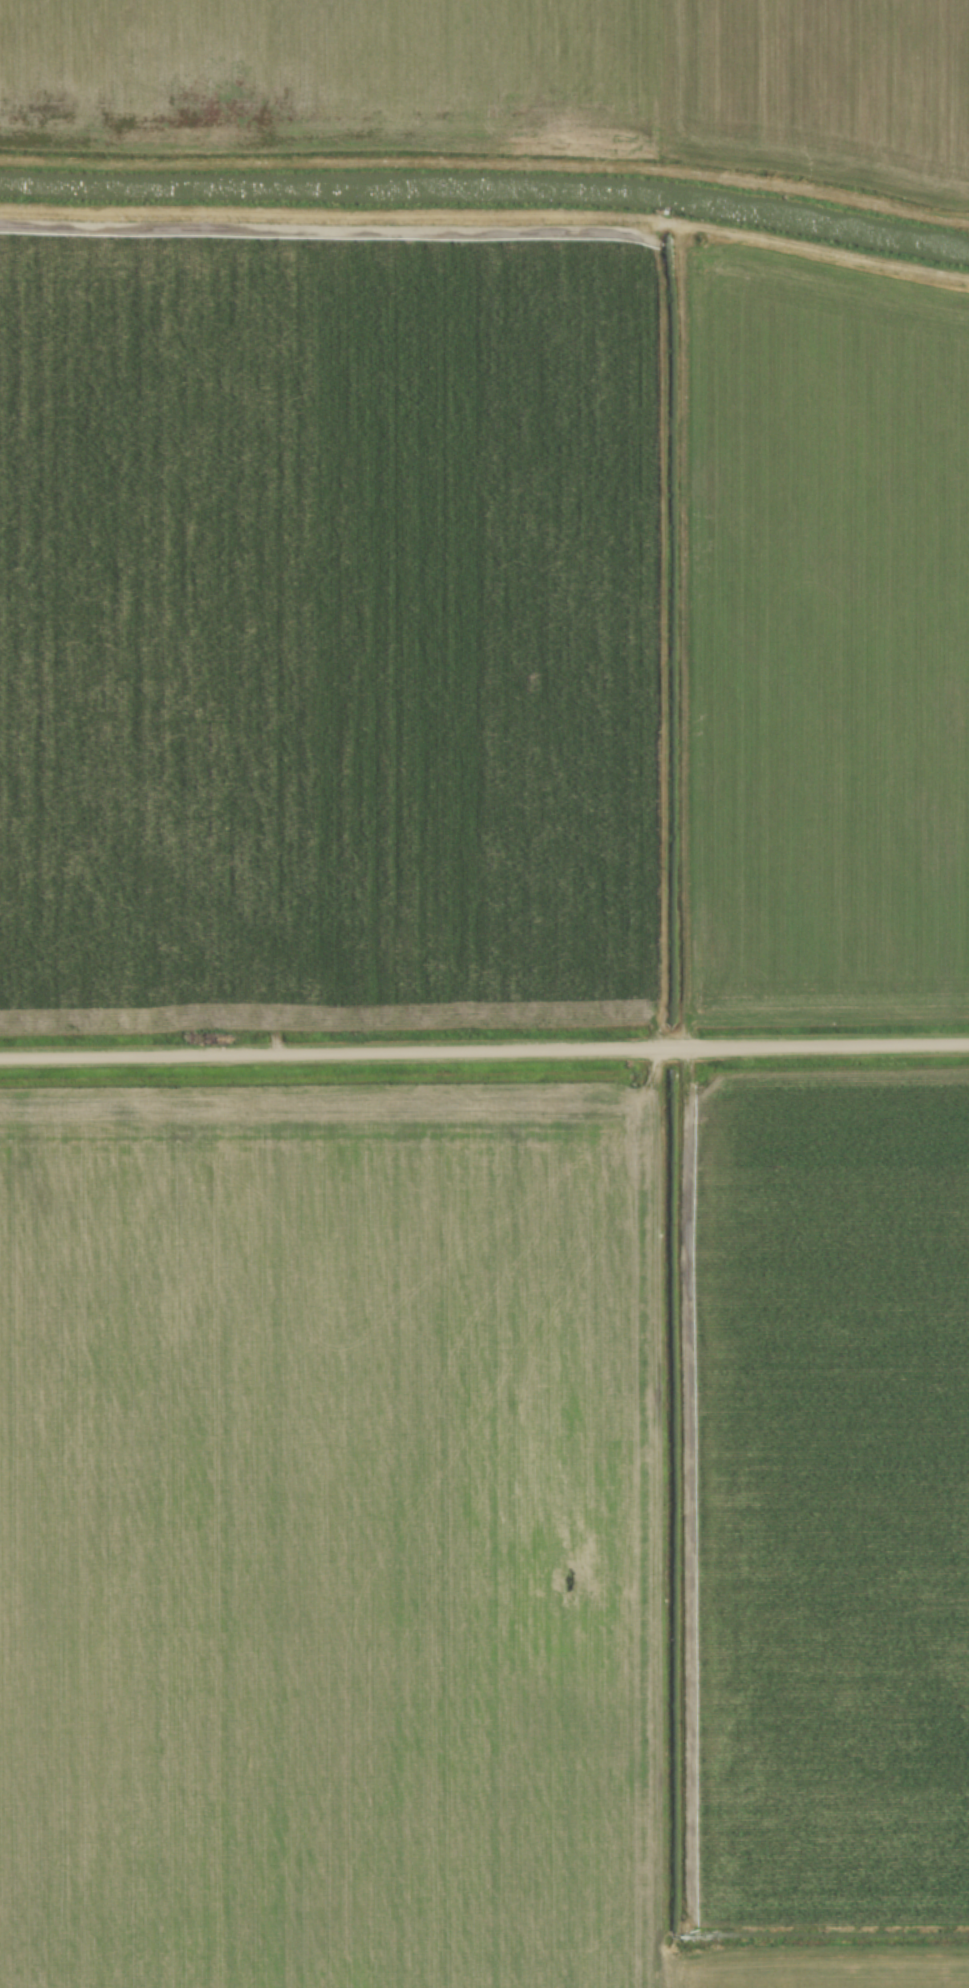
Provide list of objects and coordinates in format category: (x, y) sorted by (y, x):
crop: (517, 80)
crop: (477, 627)
road: (484, 1051)
crop: (485, 1528)

